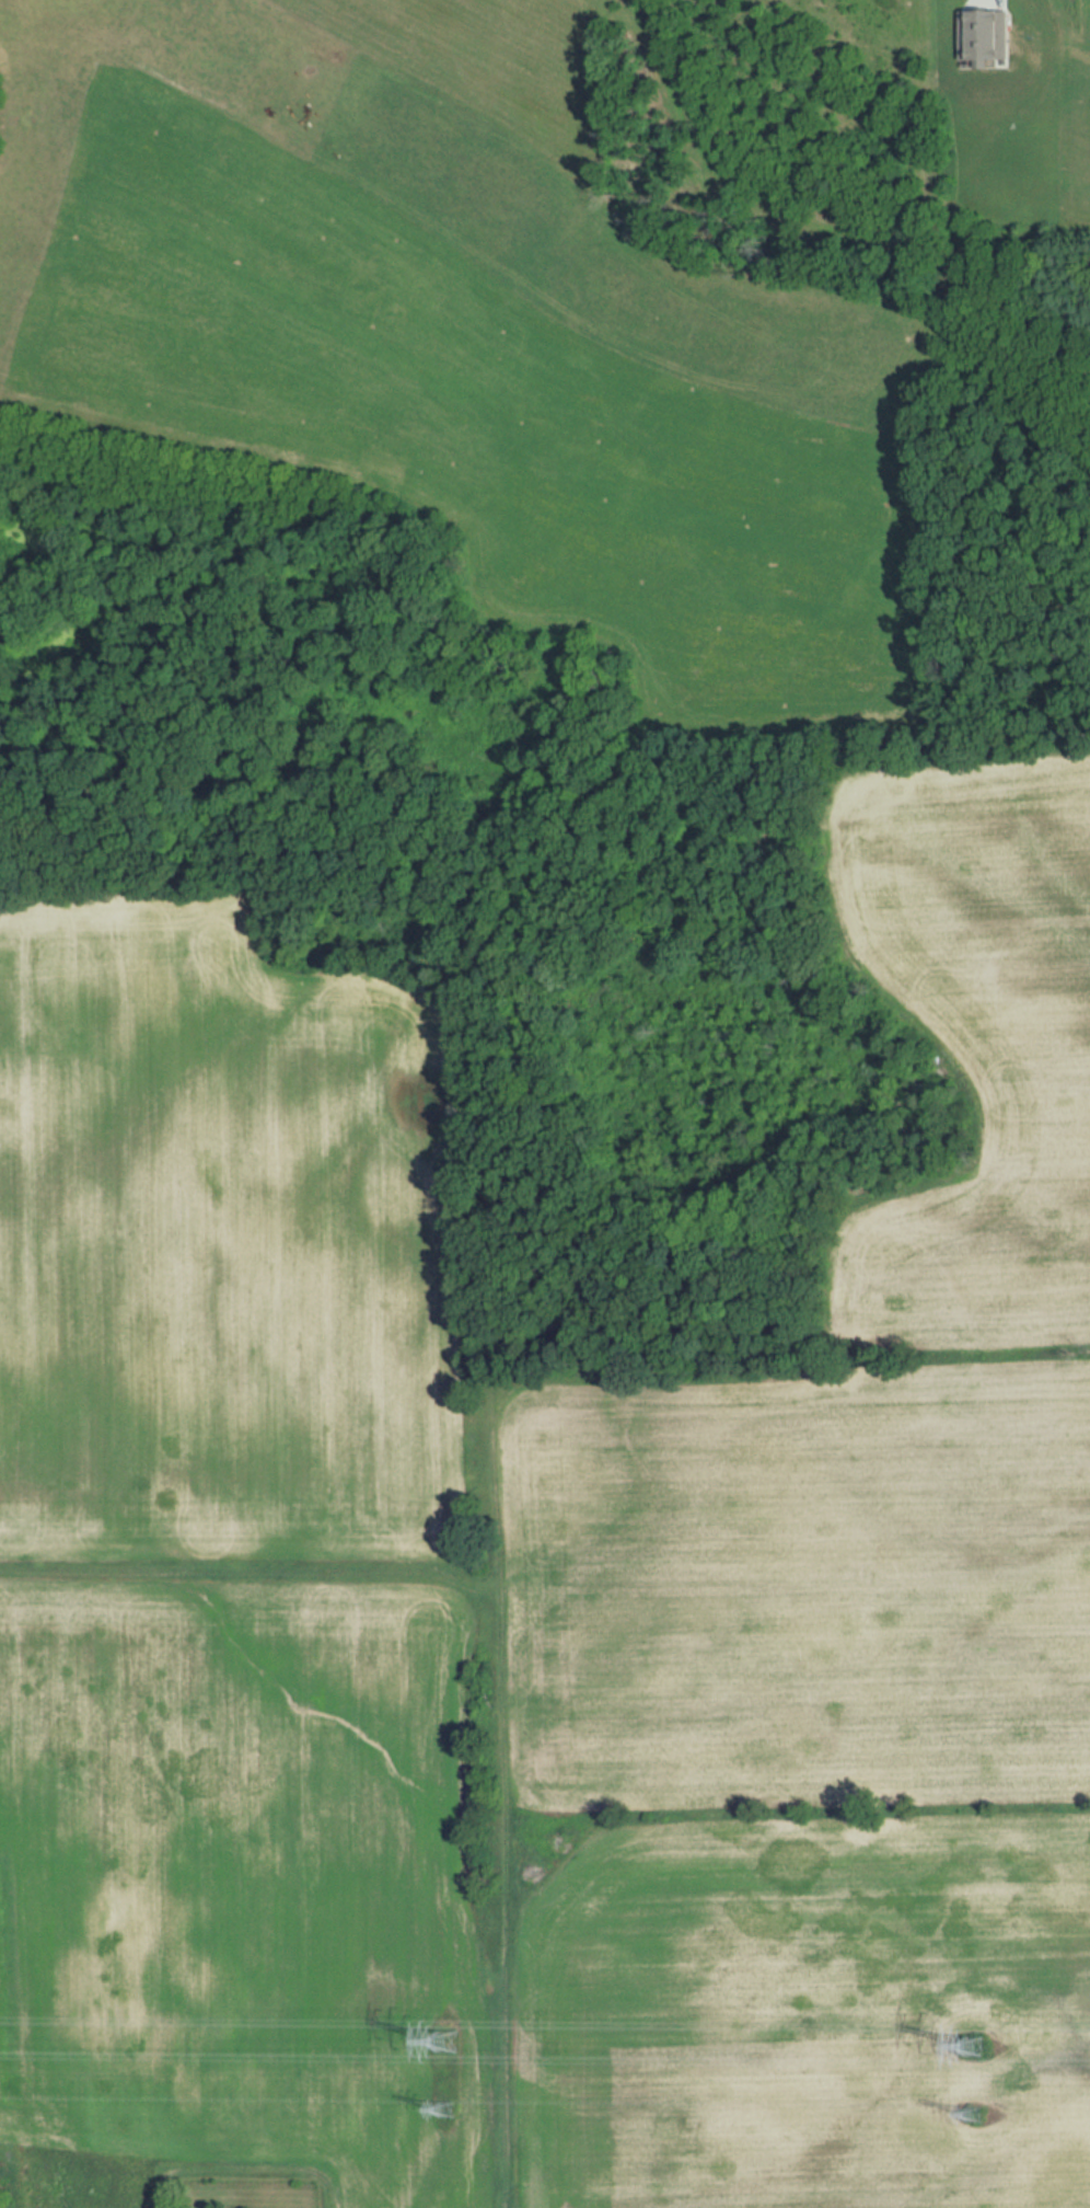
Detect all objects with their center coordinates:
power tower: (438, 2042)
power tower: (966, 2046)
power tower: (443, 2111)
power tower: (974, 2115)

